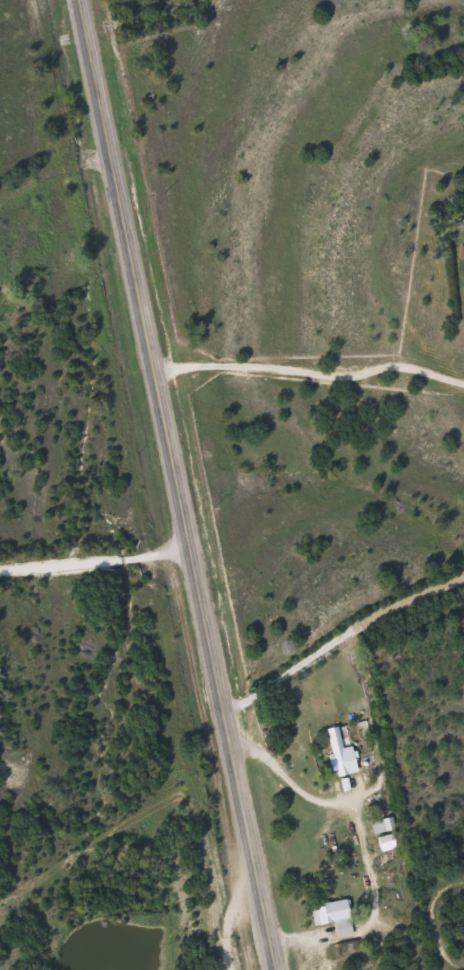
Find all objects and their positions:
road: (310, 370)
road: (176, 484)
road: (94, 566)
road: (337, 639)
building: (343, 751)
building: (384, 826)
road: (360, 840)
building: (389, 843)
building: (335, 912)

